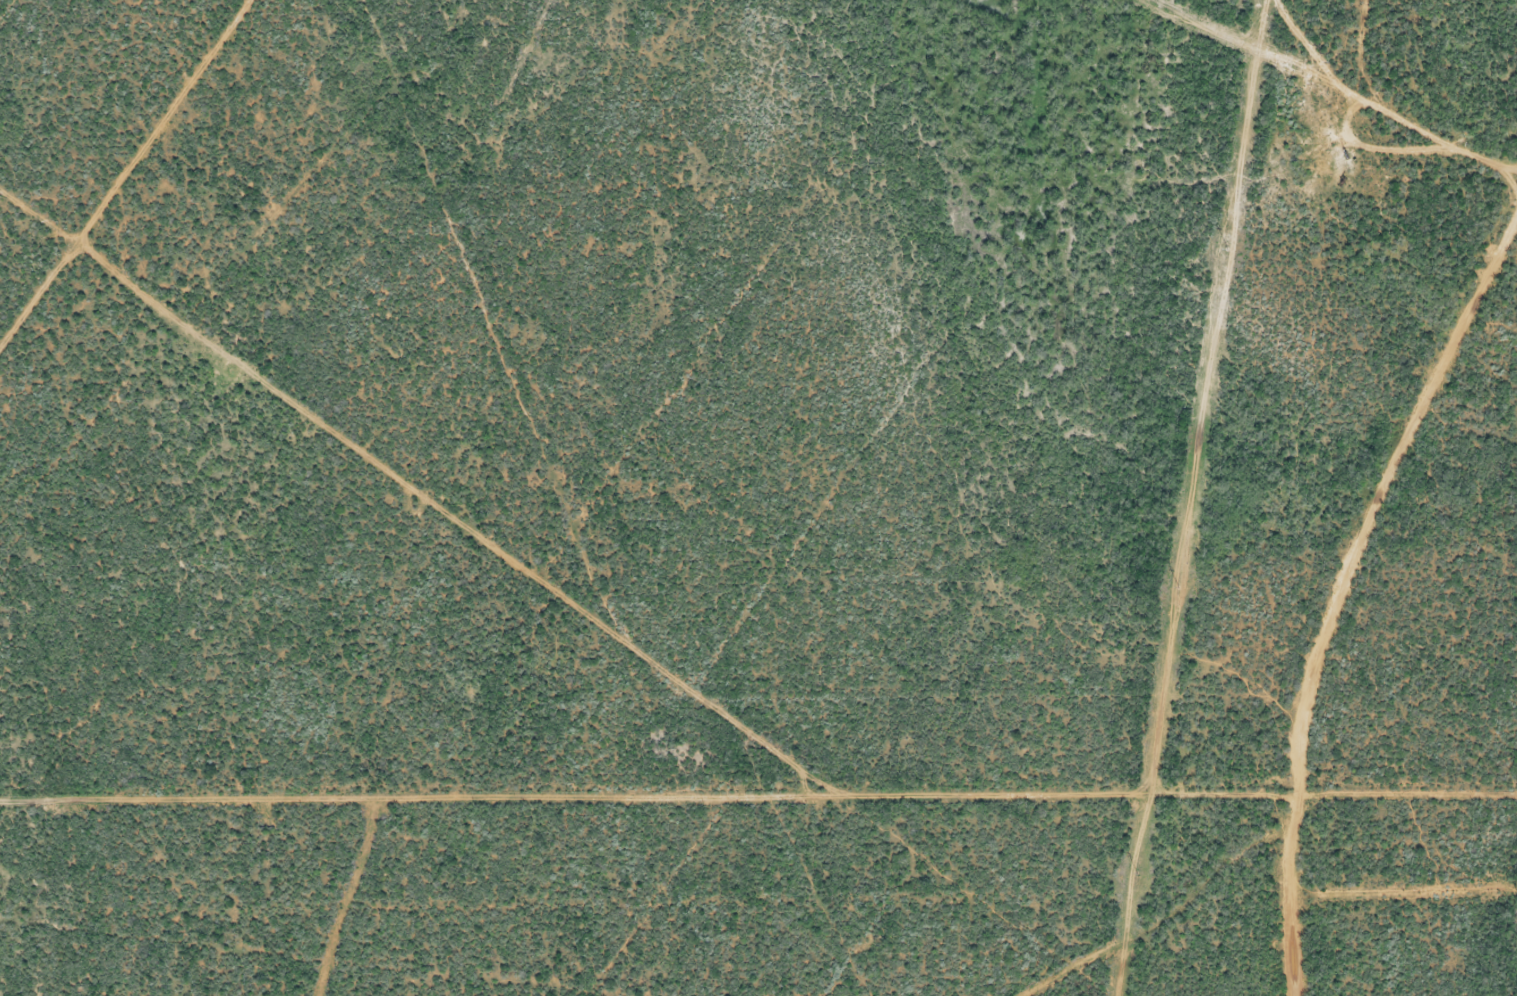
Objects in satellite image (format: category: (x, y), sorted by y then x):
power tower: (1227, 247)
power tower: (1178, 585)
road: (1375, 673)
power tower: (1137, 872)

